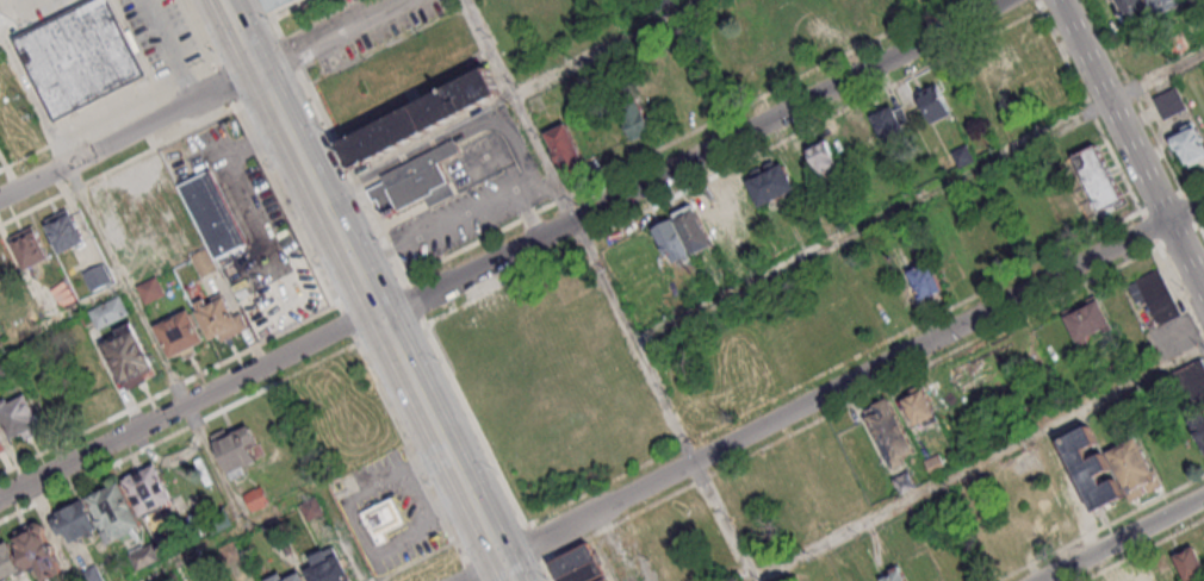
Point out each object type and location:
building: (281, 4)
building: (882, 4)
building: (1158, 4)
building: (1132, 7)
road: (273, 18)
building: (814, 26)
road: (200, 33)
road: (242, 35)
road: (327, 35)
road: (4, 46)
building: (1177, 46)
road: (609, 48)
road: (291, 54)
building: (79, 55)
road: (228, 86)
building: (994, 92)
parking lot: (131, 95)
building: (1169, 101)
building: (931, 104)
road: (135, 107)
road: (1111, 108)
road: (521, 110)
building: (418, 115)
building: (635, 118)
building: (887, 124)
road: (129, 133)
road: (445, 138)
building: (1190, 144)
building: (566, 150)
building: (823, 157)
road: (26, 158)
road: (694, 160)
road: (118, 165)
building: (410, 177)
building: (1098, 179)
building: (768, 181)
parking lot: (467, 187)
road: (920, 199)
parking lot: (241, 204)
building: (213, 213)
road: (527, 213)
road: (91, 219)
building: (713, 219)
road: (436, 229)
building: (693, 229)
building: (64, 230)
building: (672, 240)
building: (1005, 245)
building: (30, 246)
road: (1185, 256)
building: (204, 262)
building: (4, 264)
building: (97, 276)
building: (926, 282)
building: (154, 292)
building: (1158, 295)
road: (412, 298)
road: (61, 311)
building: (110, 311)
building: (219, 317)
building: (1088, 321)
road: (385, 325)
building: (179, 333)
road: (352, 333)
building: (130, 355)
road: (854, 380)
building: (1193, 382)
road: (168, 389)
road: (664, 400)
road: (188, 404)
building: (918, 406)
building: (19, 416)
building: (886, 423)
building: (1198, 425)
road: (179, 433)
building: (2, 444)
building: (237, 448)
building: (936, 464)
road: (979, 466)
building: (1090, 467)
building: (1132, 469)
building: (902, 477)
building: (149, 489)
building: (114, 512)
parking lot: (389, 512)
building: (380, 518)
building: (76, 519)
road: (226, 535)
road: (345, 535)
road: (1119, 538)
road: (534, 544)
building: (38, 551)
building: (144, 555)
parking lot: (625, 556)
building: (8, 561)
building: (573, 561)
building: (1189, 562)
building: (328, 567)
road: (480, 569)
road: (470, 570)
road: (547, 571)
building: (91, 573)
building: (587, 574)
building: (277, 575)
building: (1143, 575)
building: (894, 576)
building: (602, 579)

